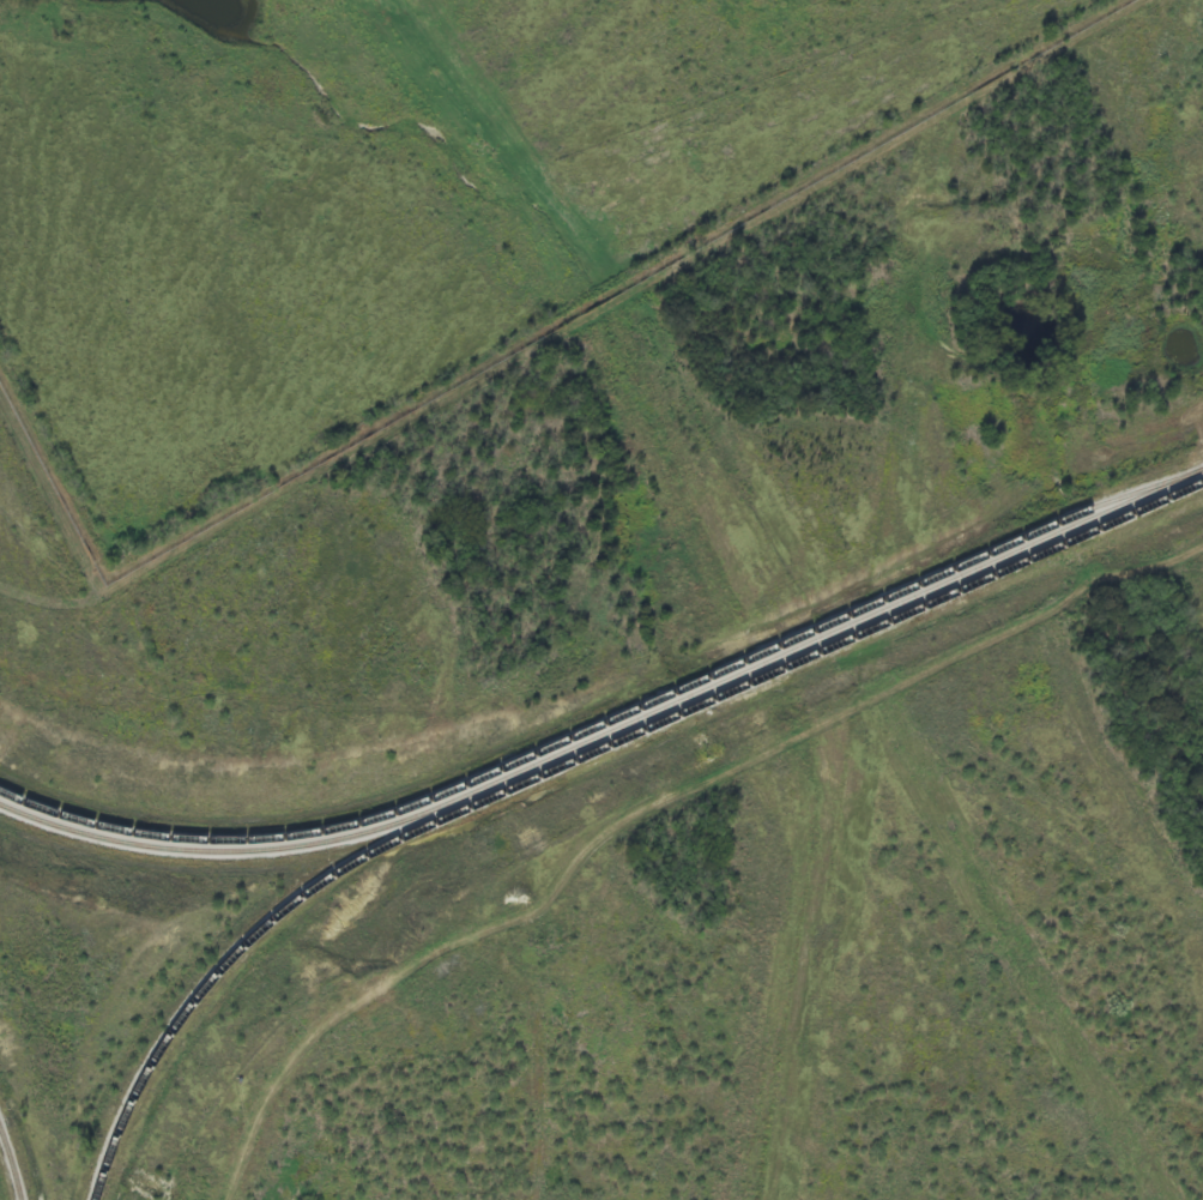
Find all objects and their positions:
railway: (600, 726)
power plant: (669, 728)
railway: (613, 731)
railway: (576, 758)
railway: (13, 1160)

